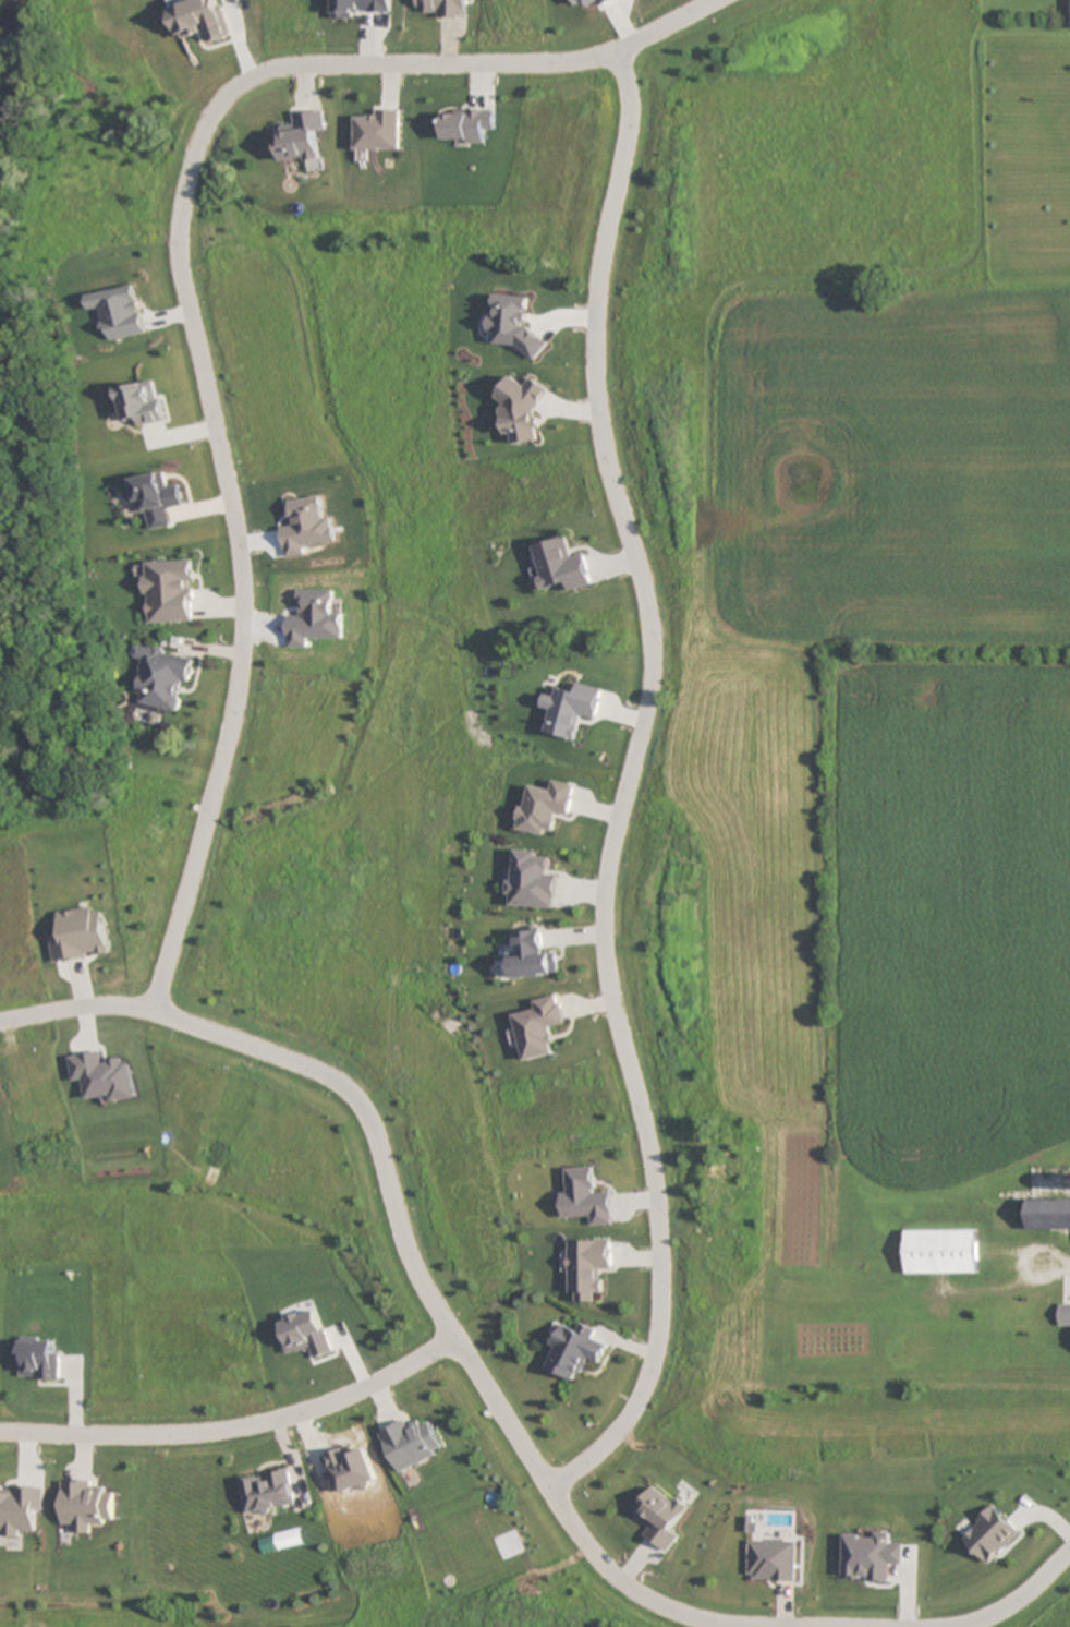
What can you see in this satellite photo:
river: (4, 44)
building: (379, 131)
building: (302, 137)
road: (183, 304)
building: (157, 498)
building: (562, 565)
building: (170, 591)
building: (162, 676)
road: (620, 785)
building: (544, 807)
building: (531, 880)
building: (82, 936)
building: (532, 956)
building: (540, 1027)
building: (587, 1196)
building: (1048, 1214)
road: (402, 1243)
building: (940, 1251)
building: (588, 1267)
building: (1063, 1314)
building: (573, 1350)
building: (38, 1359)
road: (235, 1430)
building: (411, 1444)
building: (267, 1492)
building: (85, 1505)
building: (19, 1508)
building: (660, 1516)
building: (771, 1560)
road: (1024, 1592)

